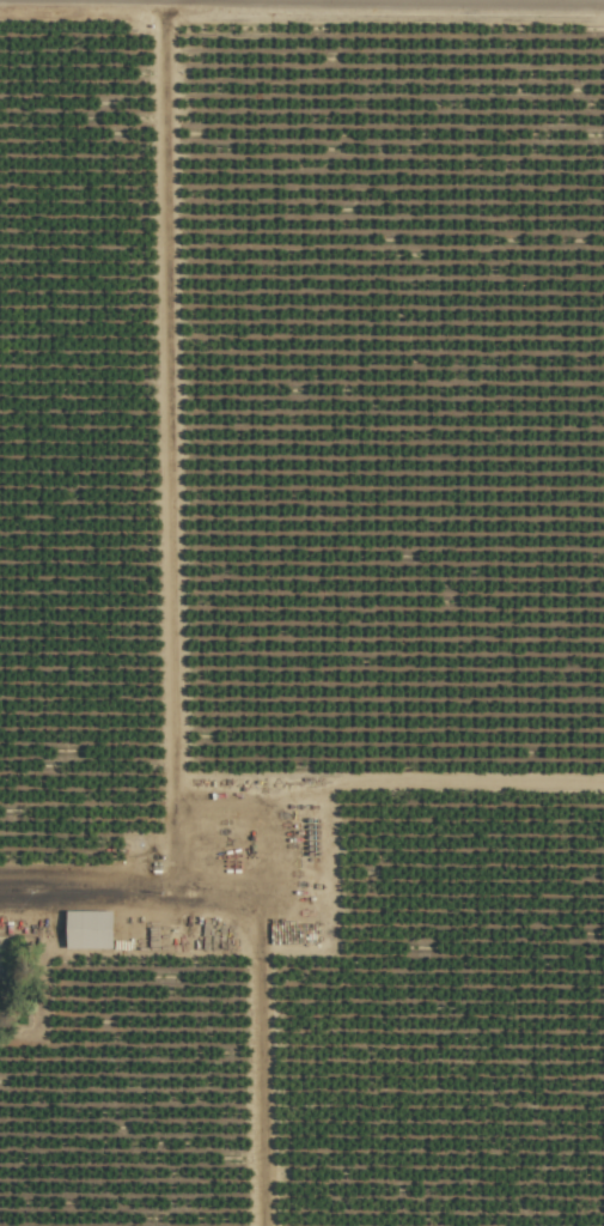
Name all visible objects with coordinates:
road: (383, 0)
road: (165, 447)
road: (84, 892)
building: (89, 929)
road: (260, 1025)

